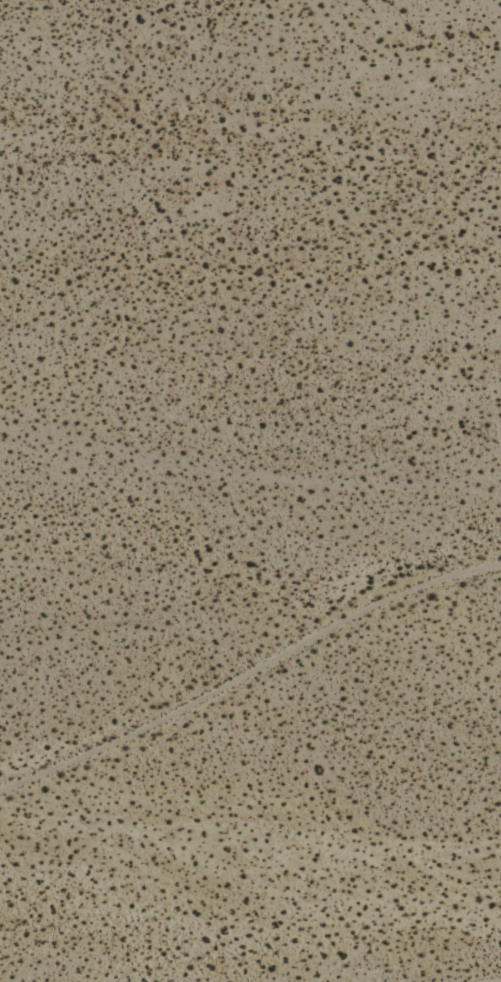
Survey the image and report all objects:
road: (240, 678)

